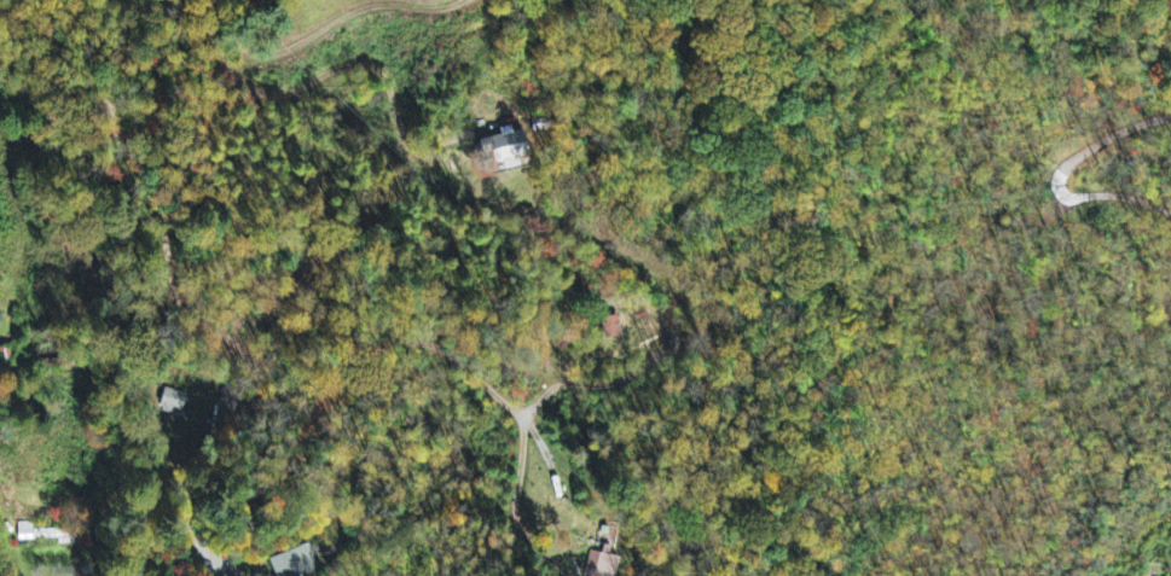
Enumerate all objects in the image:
building: (509, 149)
road: (187, 321)
building: (46, 535)
building: (300, 560)

